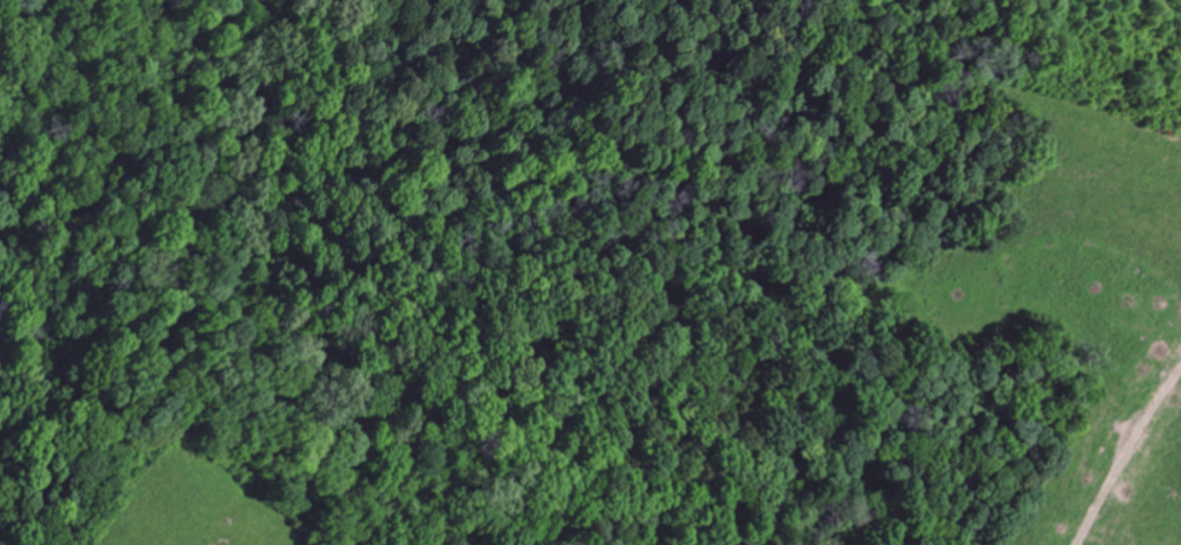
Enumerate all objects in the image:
road: (1140, 475)

